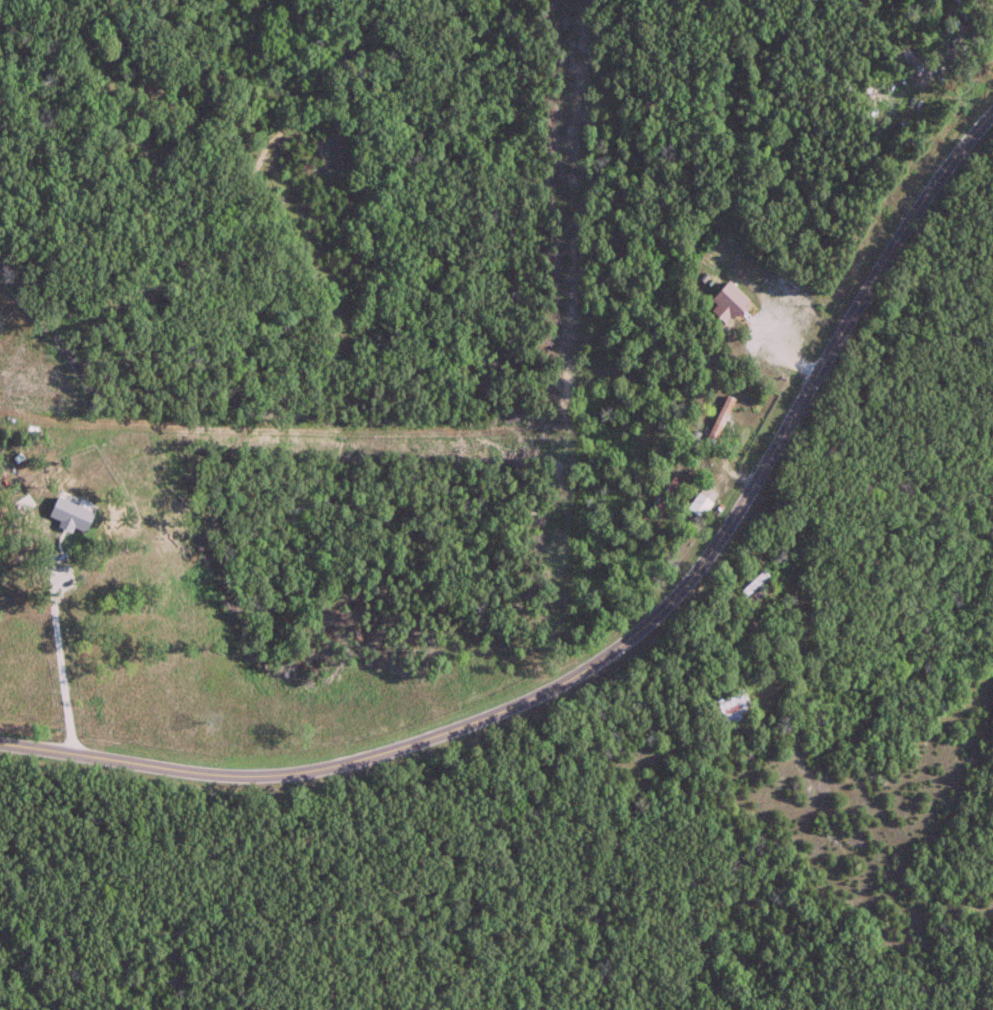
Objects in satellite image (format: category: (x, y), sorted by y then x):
building: (932, 13)
building: (984, 39)
building: (720, 298)
building: (716, 420)
building: (696, 505)
building: (751, 584)
building: (754, 599)
road: (621, 642)
building: (724, 710)

